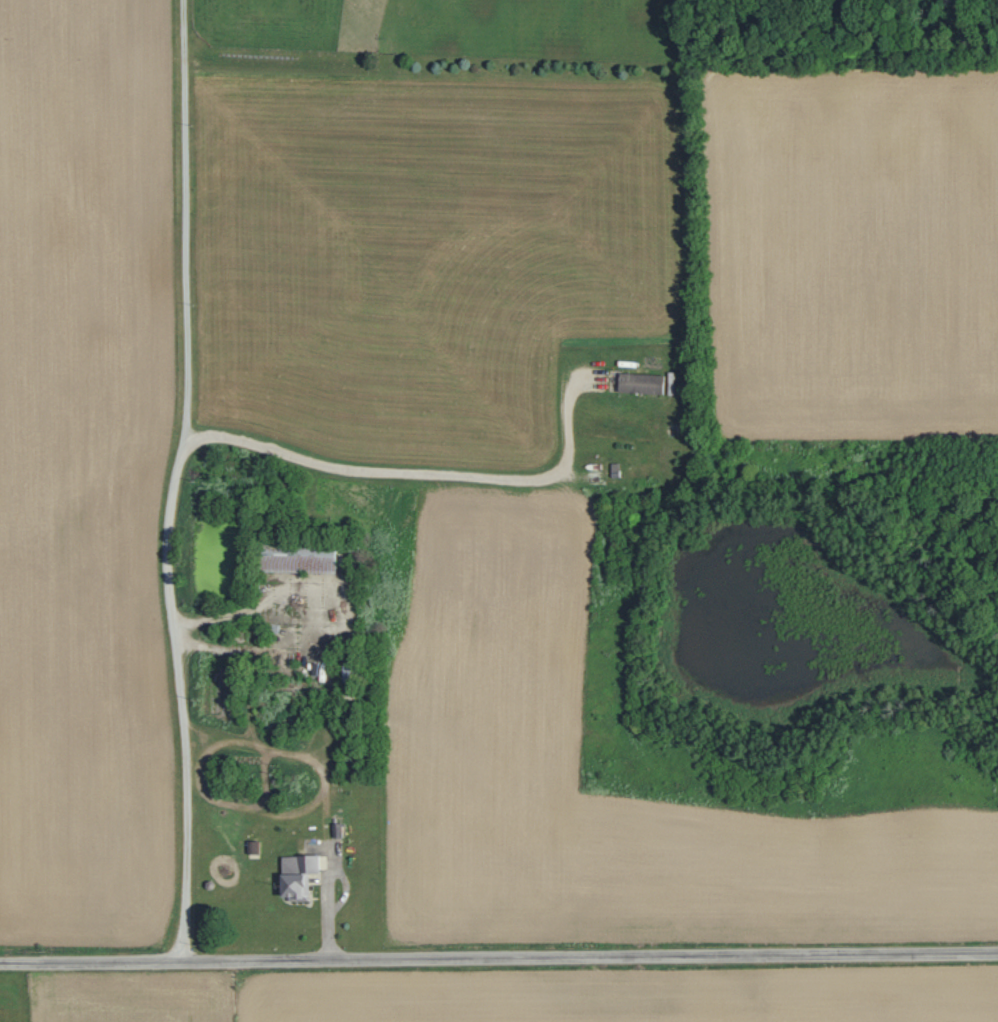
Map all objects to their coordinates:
building: (639, 383)
building: (297, 875)
road: (499, 956)

